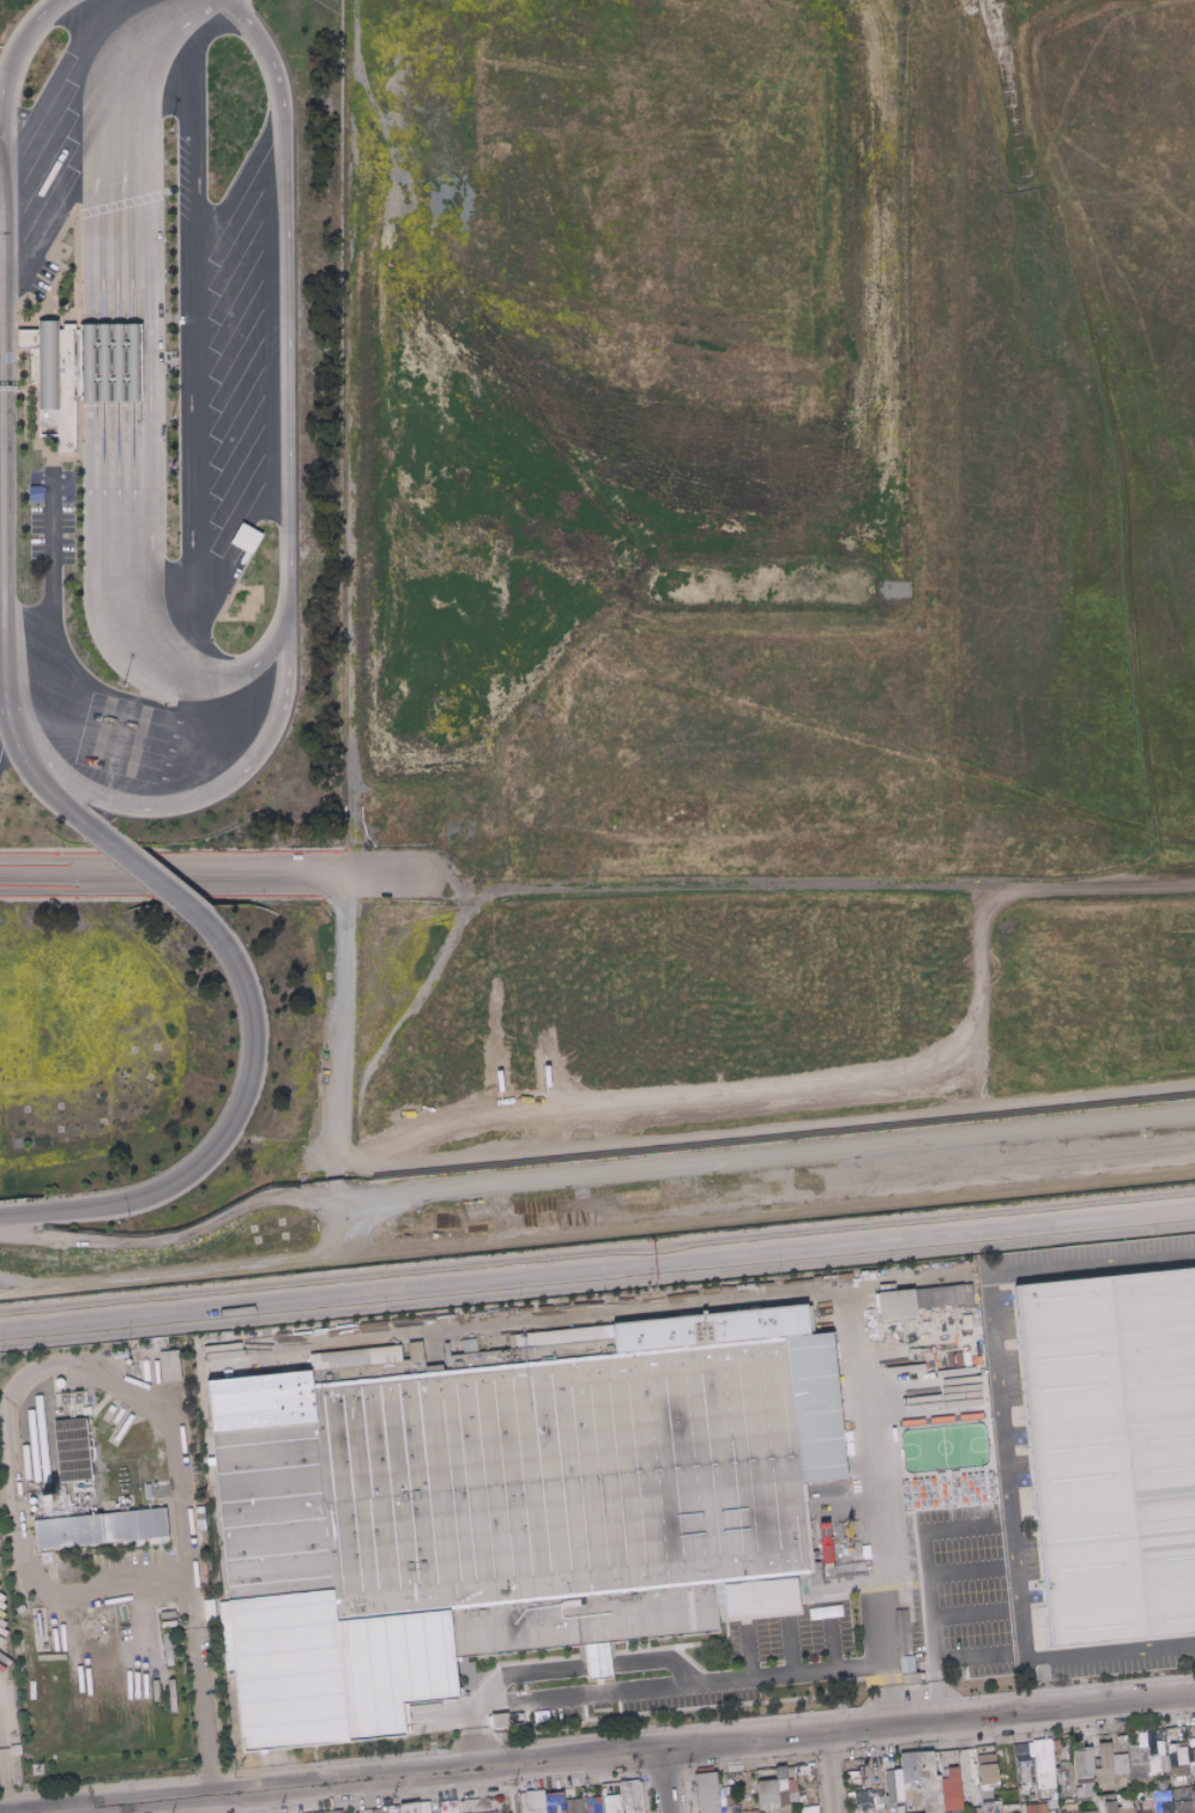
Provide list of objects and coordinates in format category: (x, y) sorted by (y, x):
road: (17, 41)
road: (193, 118)
parking lot: (46, 165)
road: (240, 180)
building: (30, 338)
road: (150, 360)
building: (114, 362)
road: (131, 365)
parking lot: (240, 367)
road: (1086, 367)
road: (99, 378)
building: (48, 379)
road: (86, 392)
road: (116, 404)
road: (6, 415)
road: (188, 440)
road: (288, 530)
building: (251, 538)
road: (1, 632)
road: (1, 697)
road: (1, 707)
road: (23, 761)
road: (1149, 863)
road: (149, 877)
road: (215, 877)
road: (684, 1106)
road: (225, 1134)
road: (623, 1137)
road: (593, 1167)
road: (336, 1176)
road: (597, 1228)
road: (597, 1267)
building: (841, 1276)
building: (939, 1296)
building: (895, 1305)
building: (169, 1366)
road: (159, 1415)
building: (1115, 1445)
road: (1003, 1447)
building: (72, 1450)
parking lot: (1096, 1452)
building: (194, 1477)
building: (153, 1483)
building: (543, 1484)
building: (159, 1504)
building: (199, 1510)
building: (198, 1520)
building: (133, 1525)
building: (67, 1531)
road: (929, 1531)
building: (47, 1558)
road: (20, 1567)
road: (954, 1576)
building: (910, 1591)
building: (910, 1598)
building: (209, 1601)
building: (209, 1613)
road: (959, 1618)
building: (288, 1619)
building: (228, 1637)
road: (831, 1638)
road: (789, 1644)
road: (748, 1649)
road: (929, 1650)
building: (168, 1651)
building: (346, 1656)
building: (598, 1656)
road: (657, 1658)
building: (457, 1660)
road: (965, 1662)
road: (599, 1664)
road: (527, 1670)
building: (909, 1678)
building: (919, 1680)
road: (678, 1682)
road: (204, 1689)
road: (889, 1693)
building: (514, 1716)
building: (493, 1721)
building: (515, 1721)
road: (930, 1722)
road: (472, 1734)
building: (1055, 1743)
building: (1076, 1743)
building: (1143, 1743)
building: (1179, 1745)
building: (1160, 1747)
building: (1189, 1748)
building: (14, 1749)
building: (1117, 1753)
building: (1024, 1754)
building: (1137, 1754)
building: (1176, 1754)
building: (1042, 1755)
building: (1091, 1758)
building: (883, 1761)
building: (1081, 1761)
building: (1190, 1761)
building: (897, 1763)
building: (1096, 1763)
building: (1163, 1763)
building: (1060, 1764)
building: (1153, 1764)
building: (1058, 1765)
building: (1103, 1766)
building: (230, 1767)
building: (910, 1767)
building: (796, 1769)
building: (984, 1769)
building: (1057, 1769)
building: (1140, 1770)
building: (1177, 1770)
building: (796, 1773)
road: (827, 1773)
building: (1007, 1773)
building: (780, 1775)
building: (1068, 1775)
building: (1026, 1776)
building: (1082, 1776)
building: (861, 1777)
building: (994, 1777)
building: (852, 1778)
building: (1044, 1778)
road: (350, 1781)
road: (668, 1781)
building: (1062, 1781)
building: (1140, 1781)
building: (971, 1783)
building: (1158, 1784)
building: (893, 1785)
building: (911, 1785)
building: (1066, 1787)
building: (1084, 1787)
road: (506, 1788)
building: (787, 1788)
building: (1022, 1789)
building: (610, 1790)
building: (791, 1790)
building: (1171, 1790)
building: (766, 1791)
building: (781, 1793)
building: (1062, 1793)
building: (707, 1794)
building: (1086, 1794)
building: (1146, 1794)
building: (630, 1795)
building: (1028, 1795)
building: (1061, 1795)
building: (1136, 1795)
building: (1160, 1795)
building: (1008, 1796)
building: (529, 1799)
building: (538, 1799)
building: (985, 1799)
building: (1082, 1799)
building: (861, 1800)
building: (1191, 1800)
building: (801, 1801)
building: (808, 1801)
building: (911, 1801)
building: (1102, 1801)
building: (730, 1802)
building: (876, 1802)
building: (1078, 1802)
road: (1, 1803)
building: (611, 1803)
building: (1051, 1803)
building: (1069, 1803)
building: (1092, 1803)
building: (1146, 1803)
building: (583, 1805)
building: (592, 1805)
building: (1124, 1805)
building: (448, 1806)
building: (554, 1806)
building: (572, 1806)
building: (889, 1806)
building: (1182, 1806)
building: (622, 1807)
building: (773, 1807)
building: (1069, 1807)
building: (1078, 1807)
building: (1109, 1807)
building: (1163, 1807)
building: (409, 1808)
building: (1034, 1808)
building: (391, 1809)
building: (535, 1809)
building: (808, 1809)
building: (880, 1809)
building: (899, 1809)
building: (976, 1809)
building: (983, 1809)
building: (375, 1811)
building: (700, 1811)
building: (748, 1811)
building: (1051, 1811)
building: (1069, 1811)
building: (1136, 1811)
road: (52, 1812)
building: (320, 1812)
building: (334, 1812)
building: (446, 1812)
building: (453, 1812)
building: (495, 1812)
building: (500, 1812)
building: (636, 1812)
building: (735, 1812)
building: (862, 1812)
building: (873, 1812)
building: (885, 1812)
building: (930, 1812)
building: (939, 1812)
building: (953, 1812)
building: (1087, 1812)

